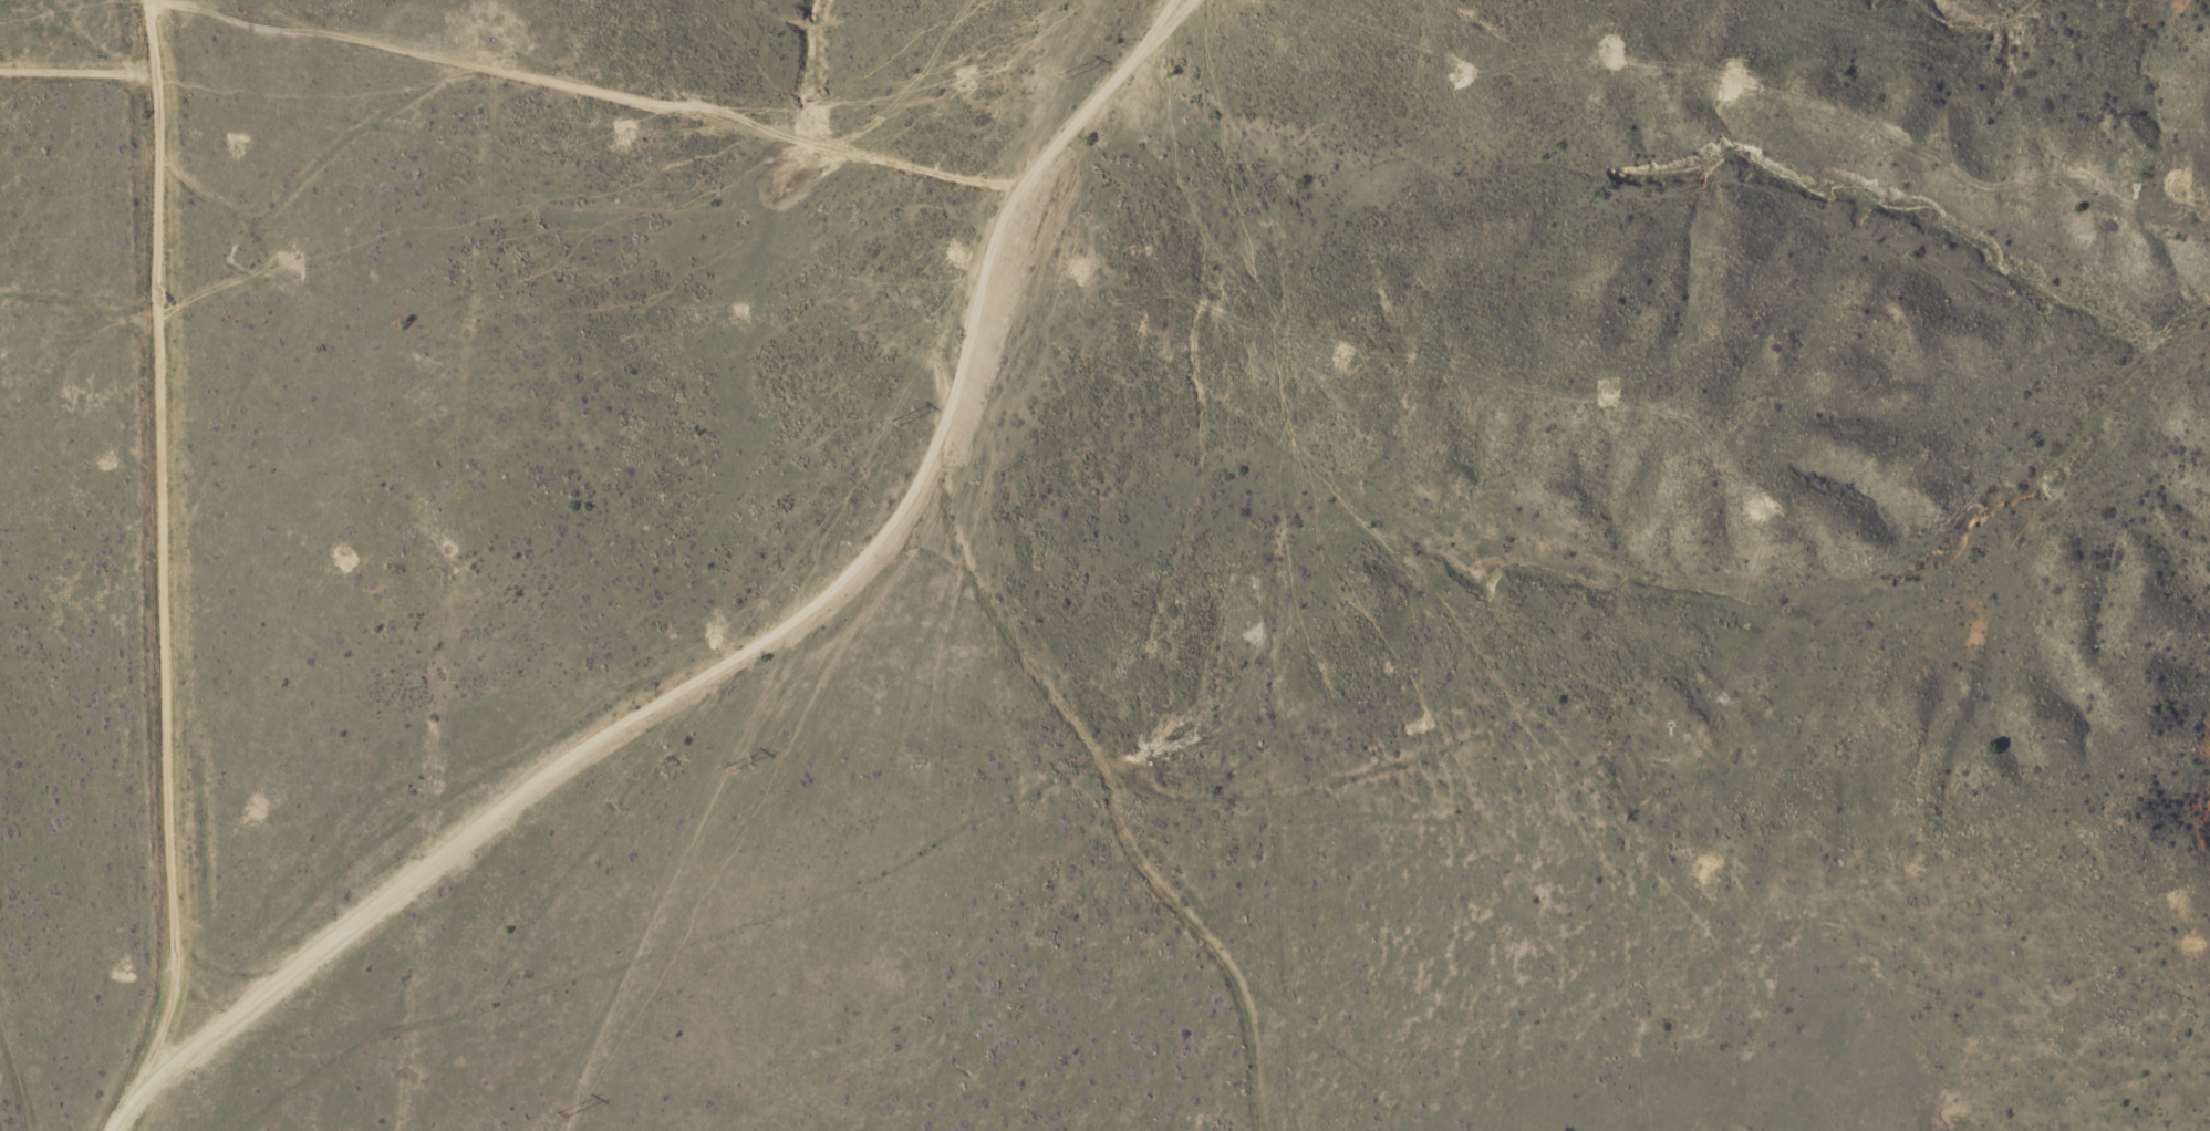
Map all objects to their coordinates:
power tower: (1060, 79)
power tower: (894, 425)
power tower: (727, 771)
power tower: (560, 1116)

